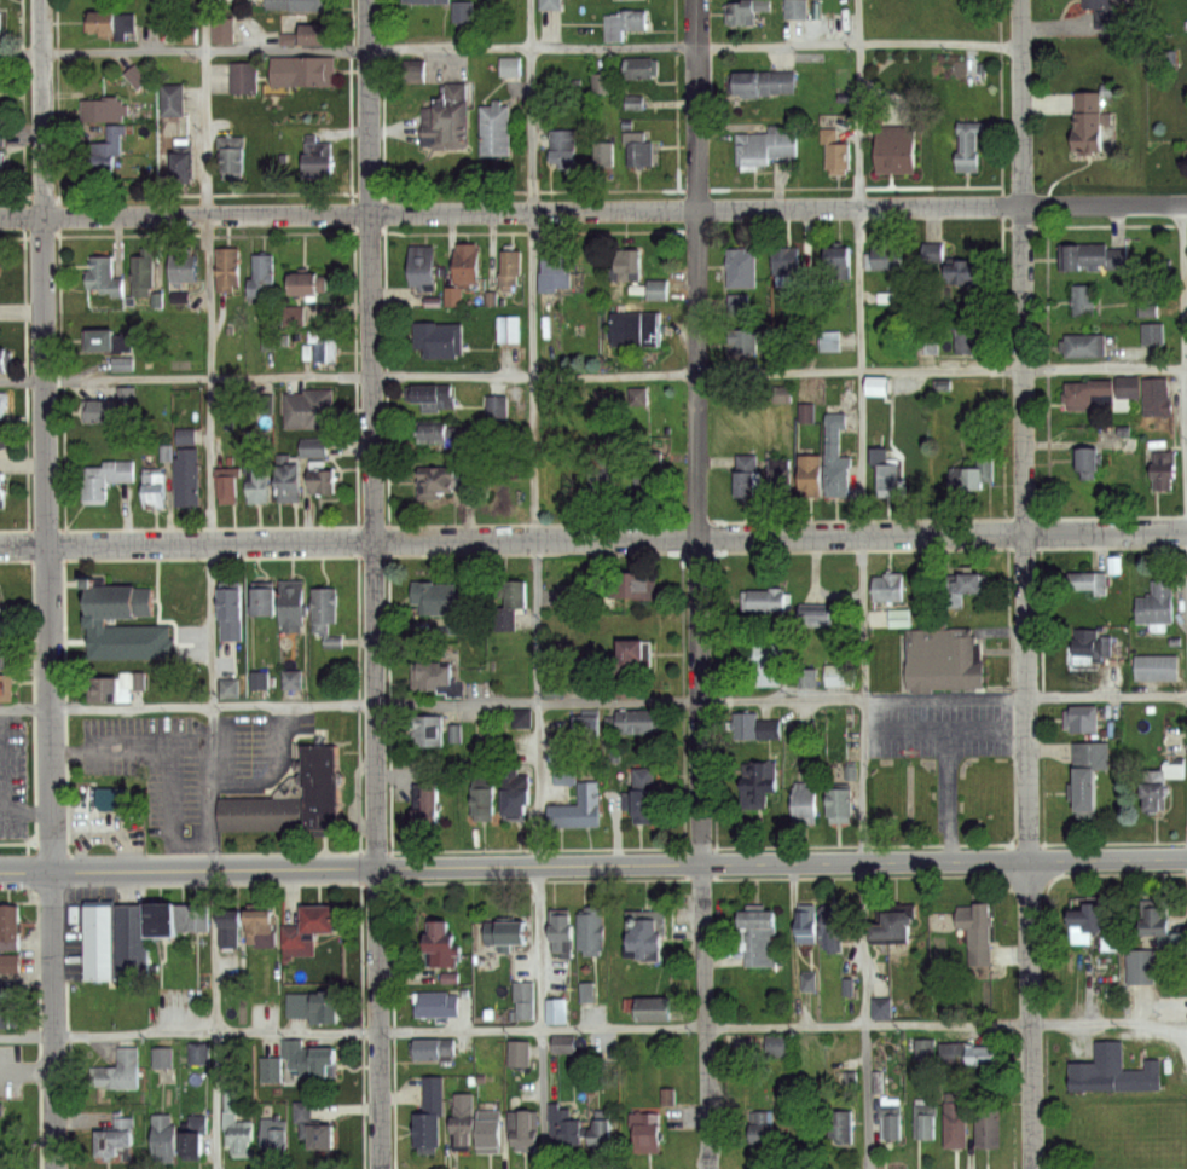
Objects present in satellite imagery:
building: (428, 1)
building: (551, 4)
building: (301, 5)
building: (795, 7)
building: (746, 10)
building: (464, 11)
building: (1096, 11)
building: (105, 23)
building: (627, 23)
building: (222, 28)
building: (294, 33)
building: (317, 34)
building: (184, 36)
road: (510, 50)
building: (511, 65)
building: (642, 68)
building: (305, 69)
building: (417, 69)
building: (244, 76)
building: (132, 77)
building: (763, 81)
building: (602, 82)
road: (1020, 91)
building: (173, 99)
building: (629, 104)
building: (104, 108)
building: (448, 122)
building: (1084, 122)
building: (498, 129)
building: (769, 143)
building: (564, 145)
building: (971, 146)
building: (638, 147)
building: (836, 147)
building: (898, 149)
building: (2, 151)
building: (608, 152)
building: (322, 156)
building: (104, 157)
building: (234, 158)
building: (185, 164)
road: (593, 210)
building: (928, 253)
building: (1090, 255)
building: (887, 257)
building: (782, 260)
building: (469, 261)
building: (839, 261)
building: (632, 265)
building: (1, 266)
building: (185, 266)
building: (425, 267)
building: (511, 267)
building: (743, 267)
building: (230, 268)
building: (968, 268)
building: (144, 271)
building: (557, 271)
building: (789, 273)
building: (108, 274)
building: (264, 277)
building: (311, 284)
road: (1185, 287)
building: (654, 290)
building: (1082, 299)
building: (735, 303)
building: (290, 314)
building: (510, 329)
building: (637, 329)
building: (1152, 334)
building: (440, 337)
building: (969, 338)
building: (108, 340)
building: (745, 340)
building: (827, 341)
building: (926, 341)
building: (1085, 346)
building: (324, 347)
road: (209, 353)
building: (5, 359)
road: (593, 376)
building: (875, 384)
building: (1128, 387)
building: (778, 393)
building: (1083, 393)
building: (435, 398)
building: (1154, 398)
building: (623, 400)
building: (4, 405)
building: (109, 405)
building: (309, 409)
building: (498, 416)
road: (697, 432)
road: (372, 433)
building: (445, 433)
road: (45, 435)
building: (1, 438)
building: (308, 447)
building: (838, 457)
building: (1085, 462)
building: (186, 468)
building: (887, 468)
building: (978, 470)
building: (1163, 470)
building: (592, 471)
building: (607, 473)
building: (748, 473)
building: (812, 475)
building: (108, 476)
building: (776, 476)
building: (227, 478)
building: (326, 478)
building: (256, 479)
building: (291, 479)
building: (438, 481)
building: (650, 482)
building: (4, 486)
building: (156, 490)
road: (1025, 521)
road: (592, 539)
building: (1088, 583)
road: (537, 584)
road: (863, 584)
building: (977, 584)
building: (635, 585)
building: (893, 589)
building: (517, 594)
building: (175, 596)
building: (120, 598)
building: (440, 598)
building: (574, 598)
building: (769, 600)
building: (265, 601)
building: (295, 603)
building: (1154, 603)
building: (326, 606)
building: (0, 609)
building: (232, 614)
building: (821, 617)
building: (132, 642)
building: (1088, 649)
building: (4, 658)
building: (946, 658)
building: (632, 664)
building: (772, 665)
building: (1154, 667)
building: (440, 673)
building: (838, 675)
building: (805, 677)
building: (289, 679)
building: (109, 687)
building: (4, 688)
building: (226, 688)
road: (1107, 696)
road: (946, 698)
road: (433, 706)
building: (525, 719)
building: (1084, 719)
building: (638, 722)
building: (587, 723)
building: (757, 728)
building: (488, 729)
parking lot: (940, 729)
building: (430, 730)
road: (945, 731)
road: (131, 747)
building: (1092, 756)
parking lot: (149, 770)
building: (562, 775)
parking lot: (15, 776)
building: (763, 782)
road: (213, 788)
building: (1082, 789)
building: (291, 793)
building: (1151, 794)
building: (647, 797)
road: (950, 797)
building: (111, 801)
building: (810, 801)
building: (844, 803)
building: (520, 804)
building: (427, 805)
building: (486, 805)
road: (22, 809)
road: (172, 809)
building: (579, 809)
building: (133, 829)
road: (593, 866)
building: (1084, 918)
building: (763, 920)
building: (255, 924)
building: (8, 925)
building: (184, 926)
building: (901, 926)
building: (564, 927)
building: (811, 928)
building: (841, 928)
building: (1158, 928)
building: (156, 930)
building: (227, 930)
building: (306, 931)
building: (593, 931)
building: (508, 933)
building: (980, 934)
building: (650, 937)
building: (432, 941)
building: (447, 945)
building: (97, 949)
building: (126, 949)
building: (6, 962)
building: (1140, 967)
building: (811, 982)
building: (523, 999)
building: (297, 1005)
building: (439, 1005)
building: (326, 1008)
building: (885, 1009)
building: (558, 1011)
building: (659, 1011)
road: (703, 1015)
road: (1031, 1015)
building: (5, 1017)
road: (378, 1018)
road: (214, 1019)
road: (53, 1020)
road: (592, 1029)
building: (560, 1043)
building: (781, 1048)
building: (926, 1048)
building: (433, 1049)
building: (956, 1052)
building: (521, 1053)
building: (198, 1055)
building: (162, 1057)
building: (985, 1057)
building: (285, 1061)
building: (322, 1063)
building: (1111, 1071)
building: (120, 1072)
building: (465, 1119)
building: (432, 1121)
building: (894, 1121)
building: (925, 1121)
building: (956, 1122)
building: (564, 1124)
building: (238, 1129)
building: (525, 1129)
building: (843, 1129)
building: (990, 1129)
building: (765, 1130)
building: (318, 1132)
building: (493, 1132)
building: (649, 1132)
building: (276, 1133)
building: (116, 1138)
building: (604, 1138)
building: (166, 1139)
building: (193, 1145)

